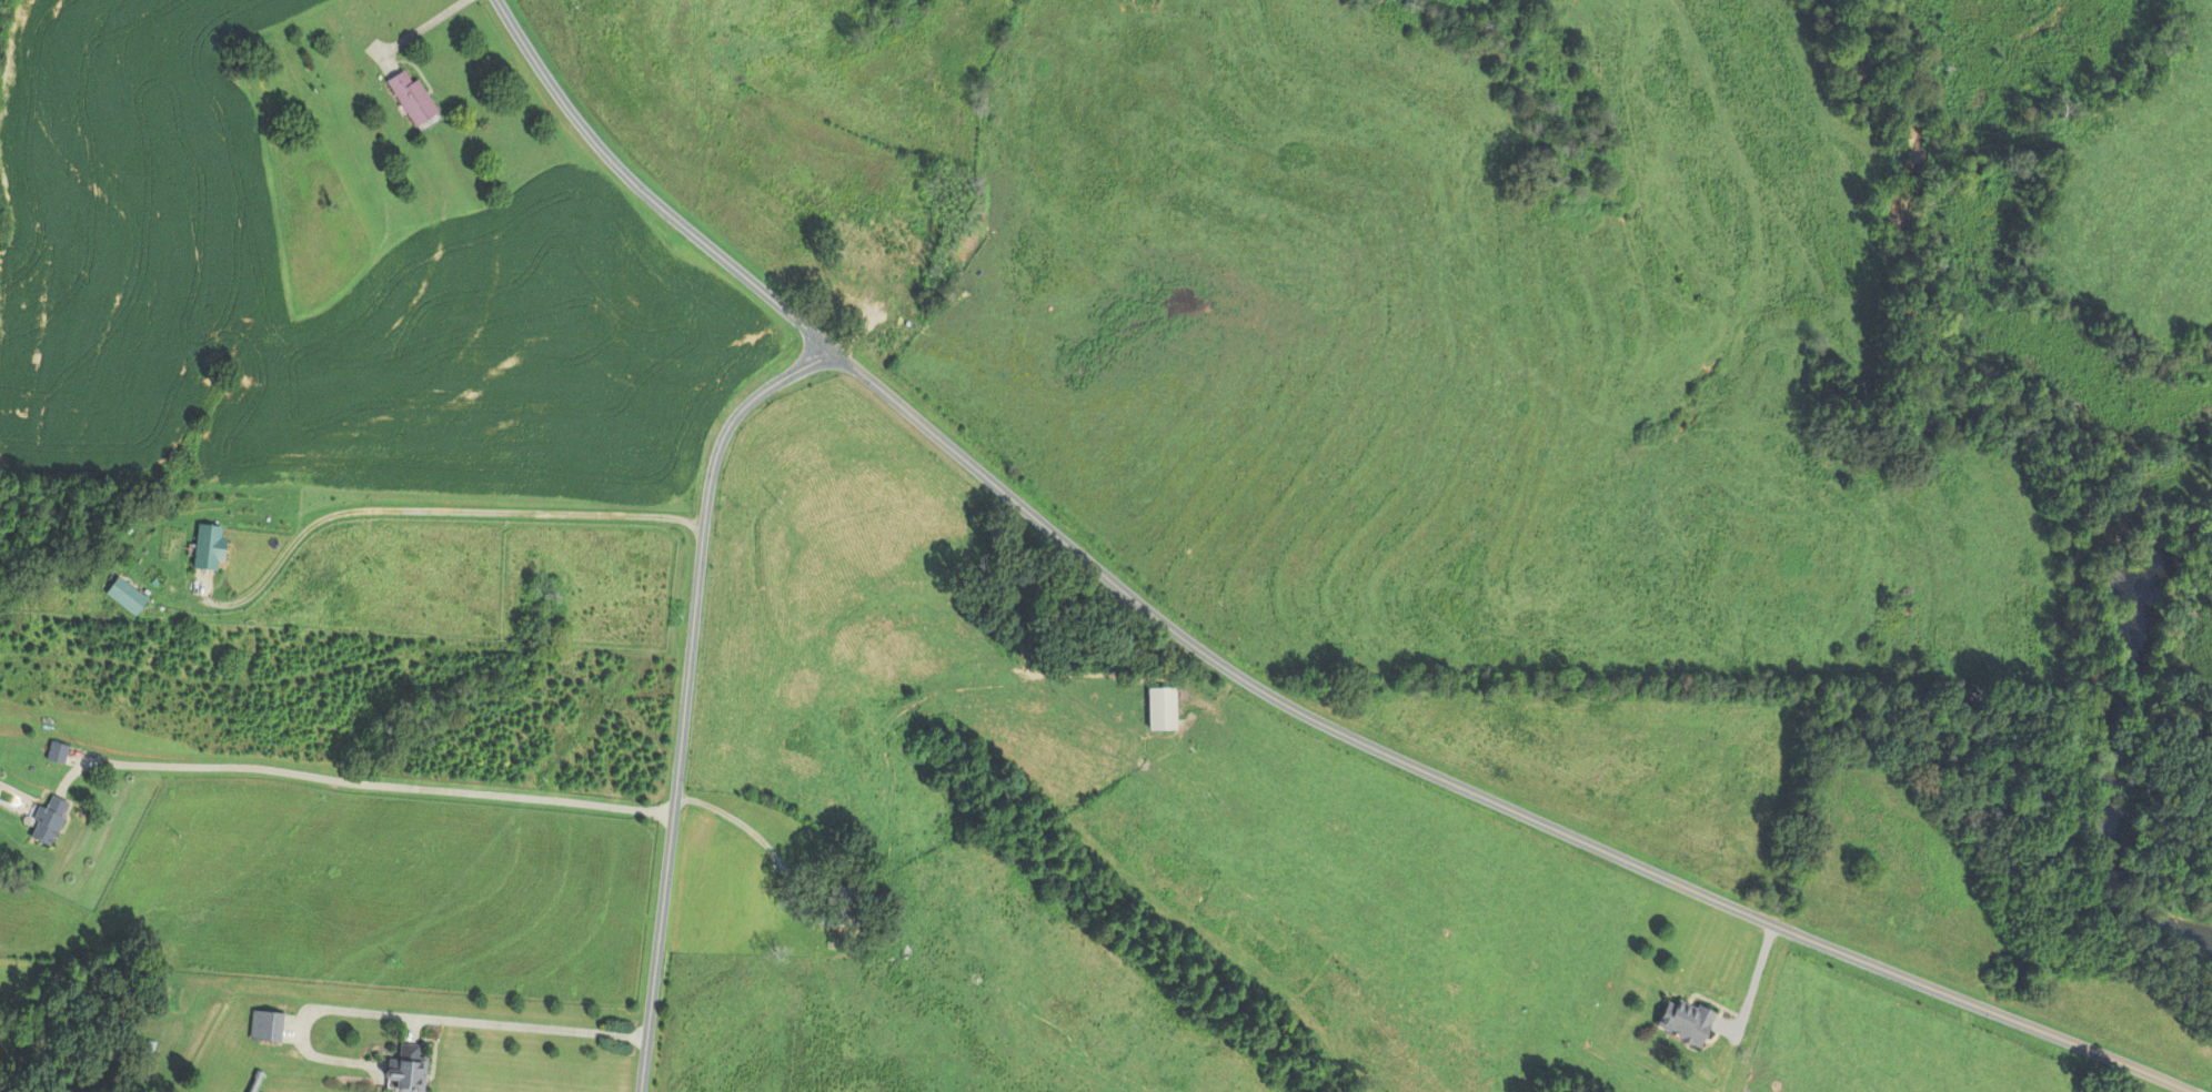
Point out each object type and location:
road: (421, 28)
building: (411, 99)
road: (645, 193)
building: (857, 267)
road: (435, 509)
building: (208, 547)
road: (686, 692)
building: (1160, 710)
building: (56, 754)
road: (361, 782)
road: (1469, 790)
building: (47, 821)
road: (762, 840)
building: (836, 904)
road: (1752, 987)
building: (173, 999)
building: (1683, 1021)
building: (265, 1025)
road: (522, 1025)
building: (406, 1069)

